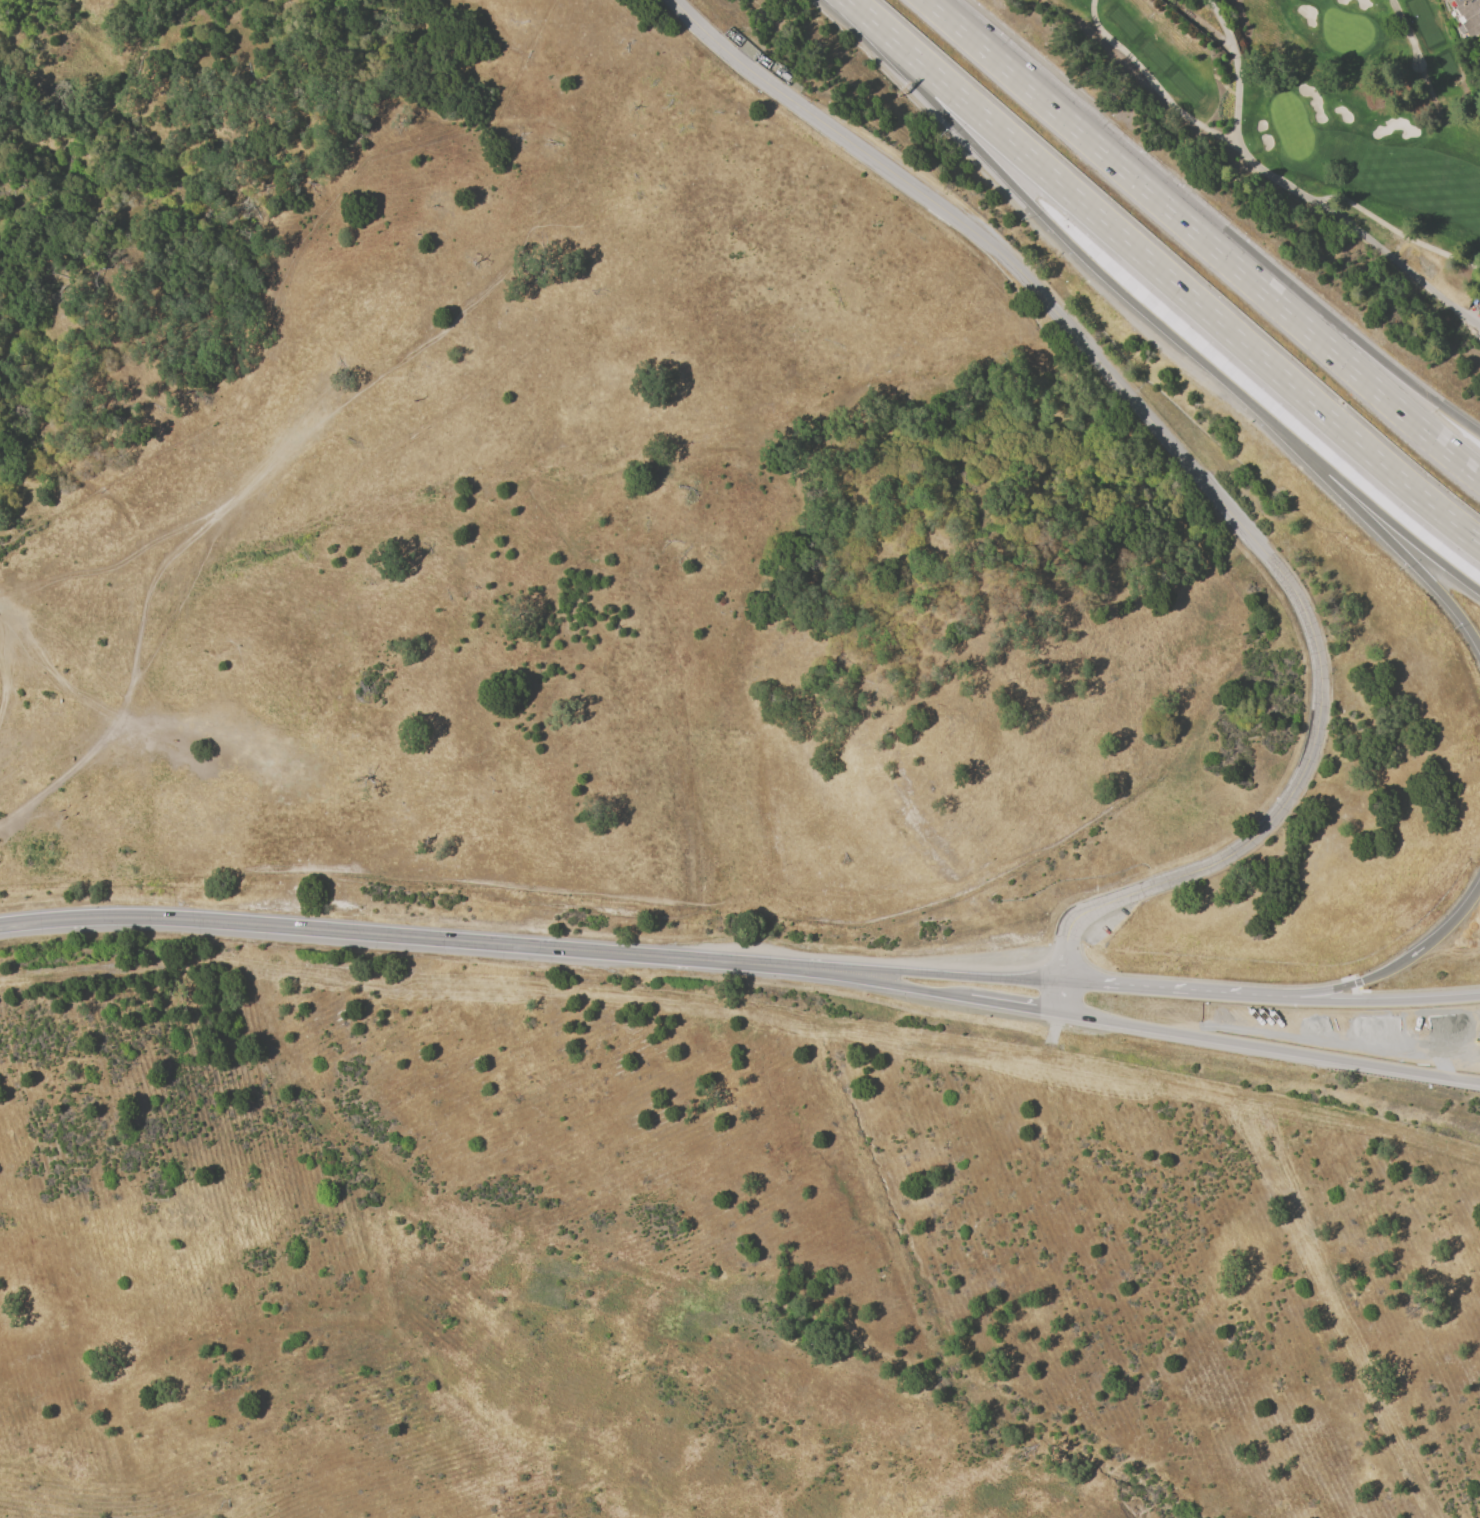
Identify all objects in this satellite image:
building: (1469, 16)
road: (952, 18)
road: (1411, 31)
building: (1479, 54)
road: (1238, 68)
building: (782, 76)
road: (1152, 84)
park: (1315, 106)
road: (1355, 205)
road: (1062, 235)
road: (1226, 236)
road: (1226, 256)
road: (1402, 266)
road: (1162, 273)
road: (1201, 477)
road: (1389, 522)
road: (1393, 545)
road: (372, 934)
road: (1396, 969)
road: (905, 974)
road: (856, 982)
road: (1125, 989)
road: (1213, 996)
road: (1360, 1003)
road: (1014, 1007)
road: (1270, 1049)

